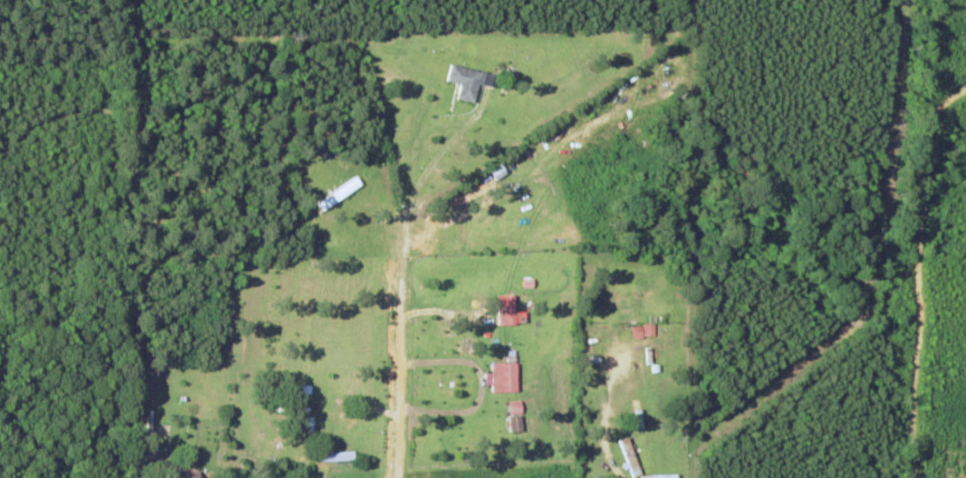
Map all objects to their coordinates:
building: (470, 80)
building: (340, 192)
building: (508, 308)
road: (402, 328)
building: (645, 330)
building: (505, 377)
building: (517, 407)
building: (185, 473)

